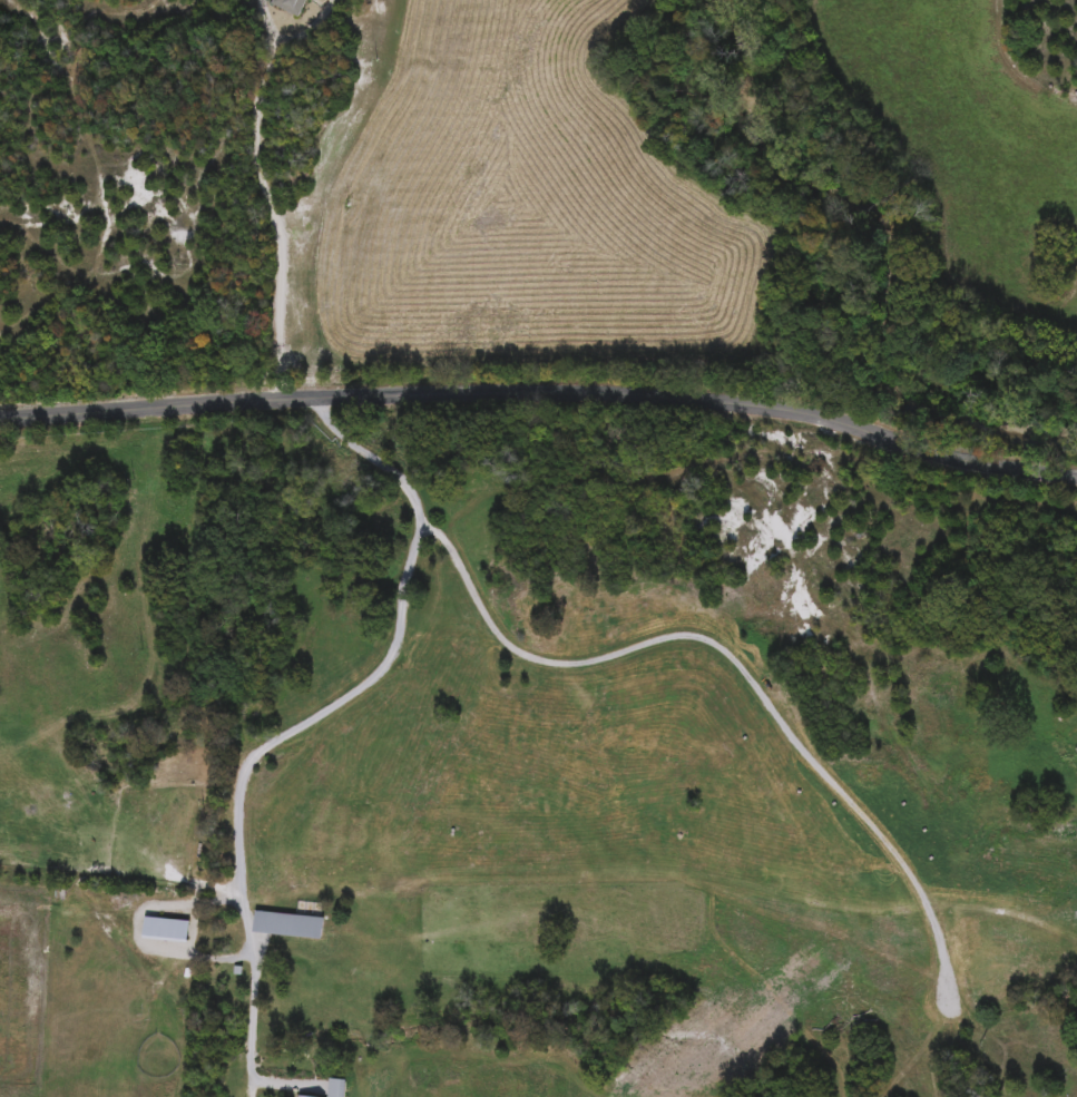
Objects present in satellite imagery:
building: (286, 4)
road: (272, 197)
road: (542, 386)
road: (737, 667)
road: (314, 717)
building: (284, 924)
building: (161, 928)
building: (333, 1088)

